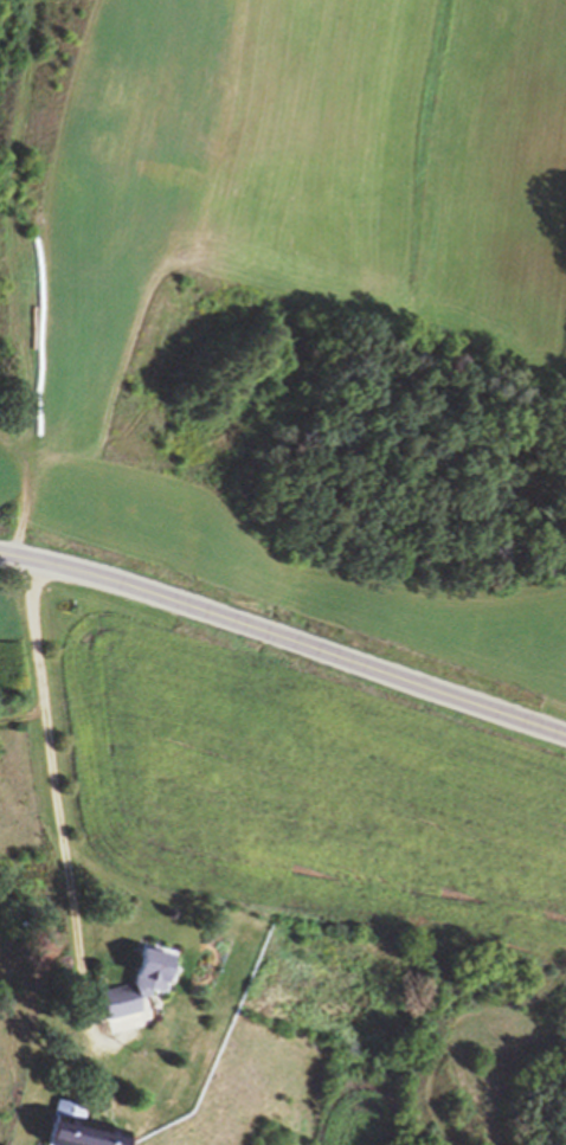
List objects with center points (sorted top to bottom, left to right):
road: (12, 276)
road: (284, 637)
road: (58, 798)
building: (137, 982)
building: (78, 1126)

